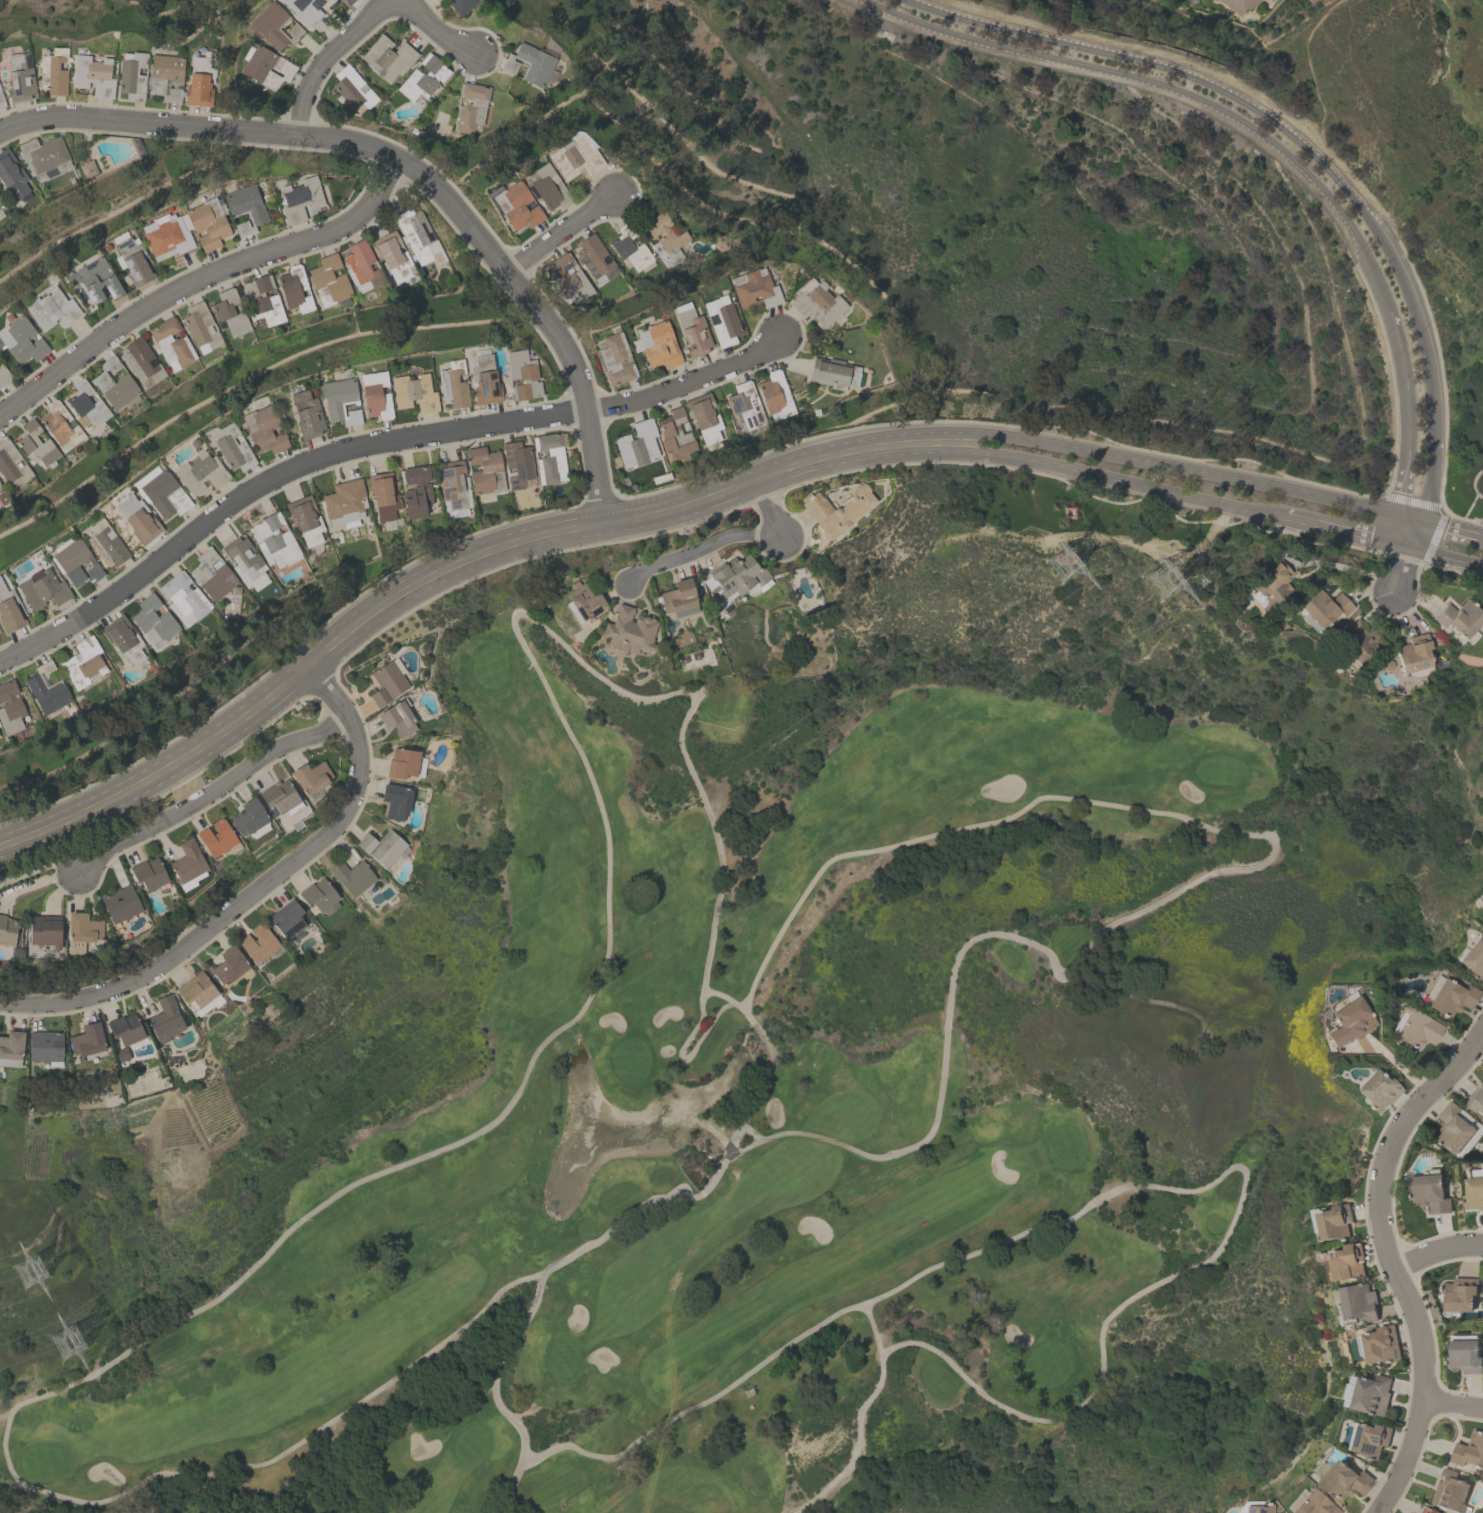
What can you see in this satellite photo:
building: (439, 0)
building: (1271, 0)
building: (348, 1)
building: (461, 5)
building: (1239, 5)
building: (304, 10)
building: (274, 26)
road: (433, 27)
road: (326, 56)
building: (389, 57)
building: (528, 65)
building: (265, 66)
building: (54, 71)
building: (93, 75)
building: (132, 75)
building: (19, 76)
building: (165, 76)
building: (423, 78)
building: (198, 82)
building: (351, 89)
building: (1, 101)
building: (471, 106)
road: (1265, 137)
park: (1362, 139)
road: (1297, 142)
building: (44, 156)
building: (574, 159)
road: (410, 166)
building: (87, 167)
building: (13, 176)
building: (544, 186)
building: (300, 198)
building: (1, 203)
building: (514, 204)
building: (244, 207)
building: (207, 223)
park: (1024, 227)
building: (167, 234)
road: (558, 234)
building: (418, 237)
building: (664, 237)
building: (630, 247)
building: (393, 255)
building: (132, 259)
building: (595, 259)
building: (360, 263)
road: (196, 277)
building: (568, 278)
building: (96, 280)
building: (328, 280)
building: (754, 288)
building: (294, 289)
building: (262, 300)
building: (817, 304)
building: (50, 308)
building: (228, 312)
building: (721, 319)
building: (200, 327)
building: (693, 332)
building: (21, 340)
building: (171, 343)
building: (658, 345)
building: (615, 358)
building: (141, 362)
building: (832, 372)
building: (3, 375)
building: (521, 375)
building: (483, 380)
road: (686, 382)
building: (114, 384)
building: (452, 385)
building: (413, 393)
building: (374, 395)
building: (775, 395)
building: (340, 401)
building: (86, 404)
building: (746, 404)
building: (306, 415)
building: (703, 417)
building: (59, 426)
building: (263, 429)
building: (675, 434)
building: (637, 444)
building: (36, 445)
building: (233, 448)
building: (549, 458)
building: (517, 463)
building: (11, 465)
road: (1189, 469)
building: (485, 470)
building: (199, 472)
road: (1126, 482)
road: (270, 483)
building: (452, 487)
building: (415, 490)
building: (161, 491)
building: (383, 495)
building: (3, 497)
building: (344, 501)
building: (836, 509)
road: (769, 510)
building: (138, 518)
building: (305, 519)
road: (1443, 524)
road: (1406, 530)
road: (1344, 531)
road: (1480, 533)
building: (275, 537)
building: (106, 544)
road: (698, 549)
road: (1443, 555)
building: (244, 558)
power tower: (1077, 561)
building: (77, 563)
road: (452, 565)
road: (1397, 571)
building: (212, 575)
building: (734, 578)
power tower: (1188, 580)
building: (1271, 583)
building: (42, 588)
building: (184, 595)
building: (678, 598)
building: (585, 602)
building: (1323, 608)
building: (9, 611)
building: (1460, 619)
building: (153, 620)
building: (629, 631)
building: (123, 638)
building: (1413, 652)
building: (82, 663)
building: (386, 683)
building: (47, 689)
building: (10, 707)
building: (397, 717)
building: (0, 741)
building: (402, 762)
building: (310, 776)
road: (211, 790)
building: (279, 798)
building: (395, 801)
building: (250, 819)
building: (217, 838)
building: (381, 847)
building: (187, 864)
road: (1209, 871)
building: (148, 873)
building: (351, 876)
road: (254, 890)
building: (319, 895)
building: (121, 903)
building: (287, 920)
building: (9, 932)
building: (81, 932)
building: (43, 933)
building: (257, 943)
building: (1473, 960)
building: (229, 964)
building: (198, 993)
building: (1451, 997)
building: (164, 1019)
building: (1348, 1021)
building: (1416, 1027)
building: (125, 1030)
building: (87, 1040)
building: (44, 1046)
building: (11, 1048)
road: (1397, 1063)
building: (1378, 1090)
building: (1476, 1099)
park: (727, 1117)
road: (495, 1118)
building: (1455, 1128)
fountain: (594, 1134)
road: (1129, 1183)
building: (1429, 1193)
building: (1474, 1193)
building: (1336, 1222)
road: (613, 1227)
road: (1437, 1250)
road: (1392, 1260)
building: (1347, 1263)
power tower: (38, 1266)
building: (1461, 1295)
building: (1360, 1302)
power tower: (80, 1335)
building: (1380, 1345)
building: (1465, 1356)
building: (1373, 1395)
road: (1454, 1405)
road: (858, 1416)
building: (1372, 1439)
building: (1469, 1451)
building: (1344, 1480)
building: (1449, 1491)
building: (1314, 1503)
building: (1258, 1508)
building: (1425, 1510)

